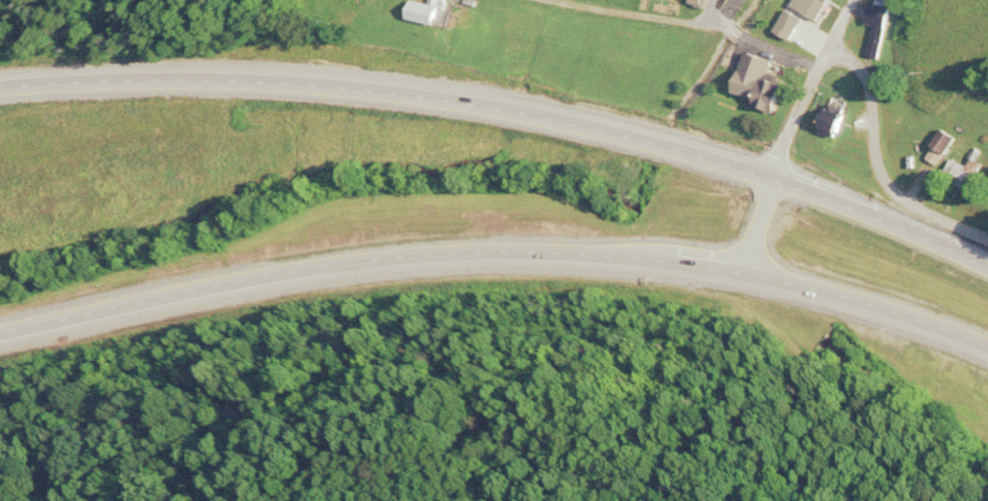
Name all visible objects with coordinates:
building: (695, 1)
building: (727, 5)
building: (423, 9)
building: (875, 23)
building: (766, 84)
road: (505, 109)
building: (831, 109)
road: (788, 131)
building: (937, 144)
road: (876, 168)
road: (496, 246)

